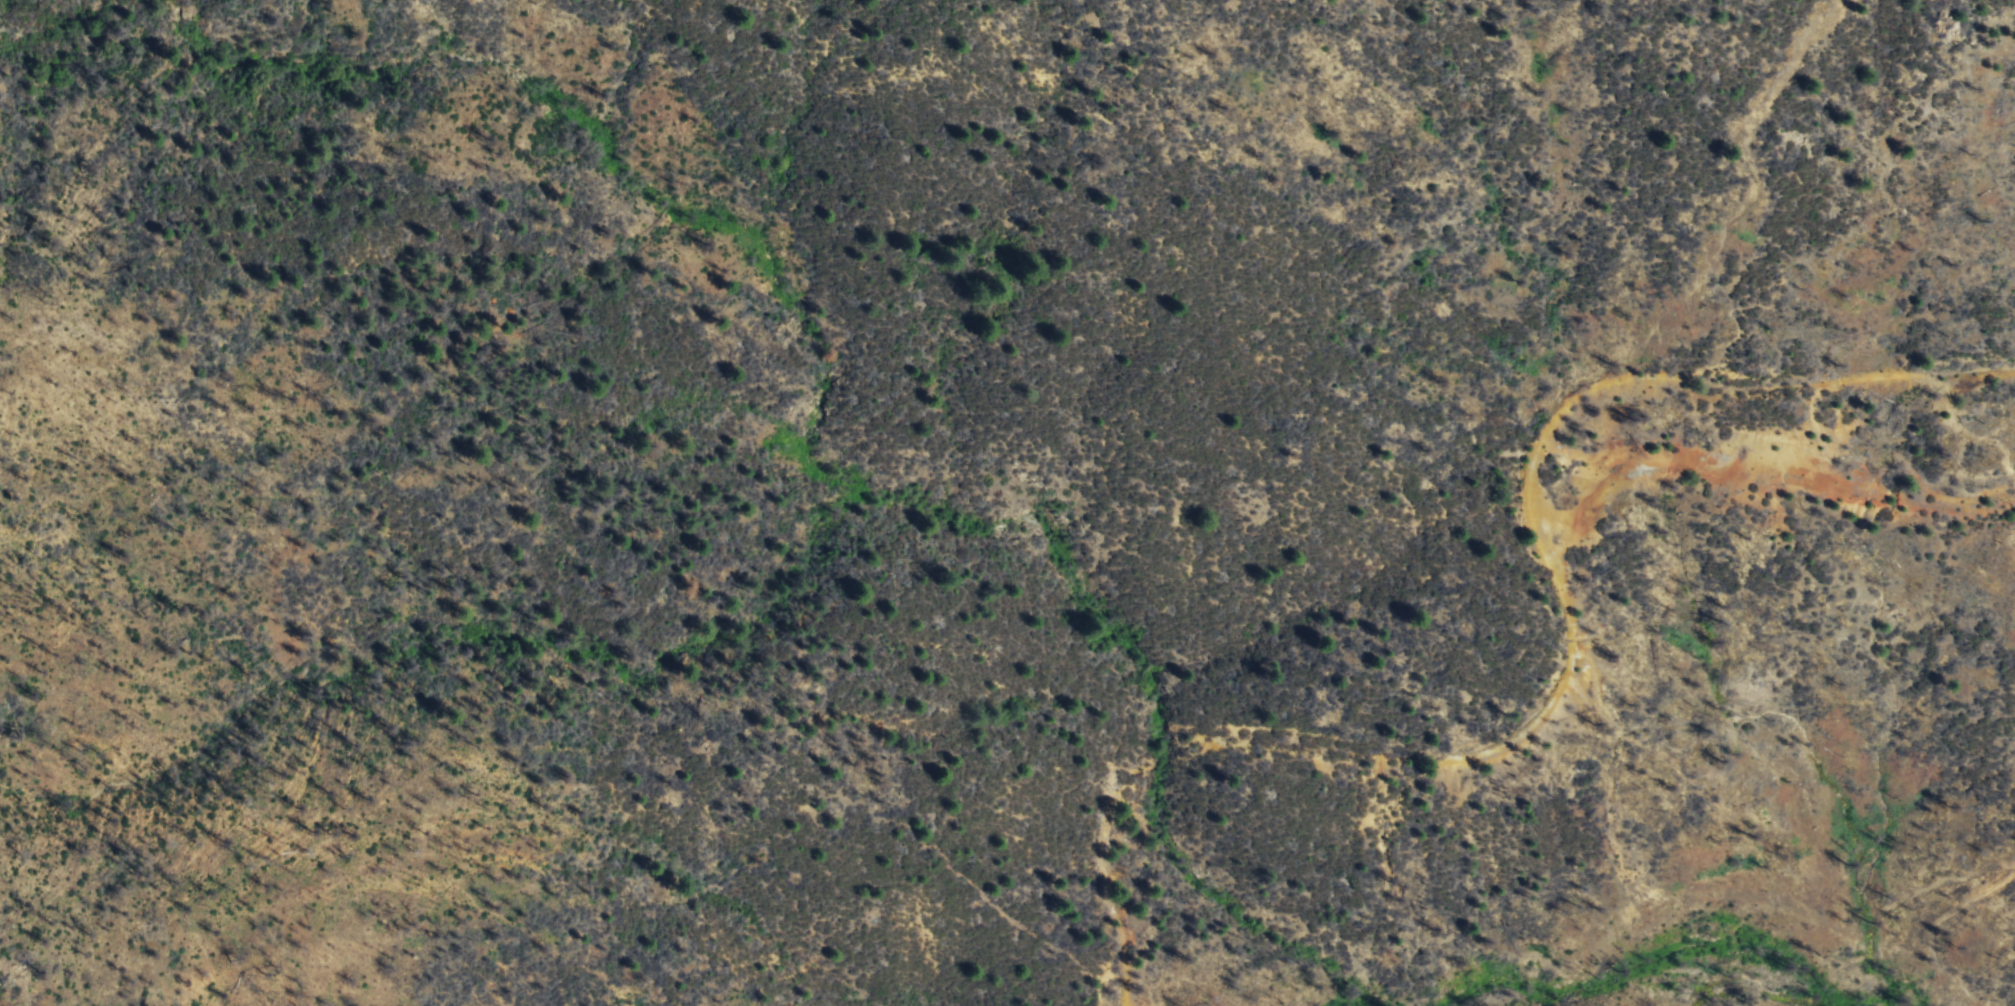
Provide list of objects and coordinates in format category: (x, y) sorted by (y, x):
road: (1574, 668)

